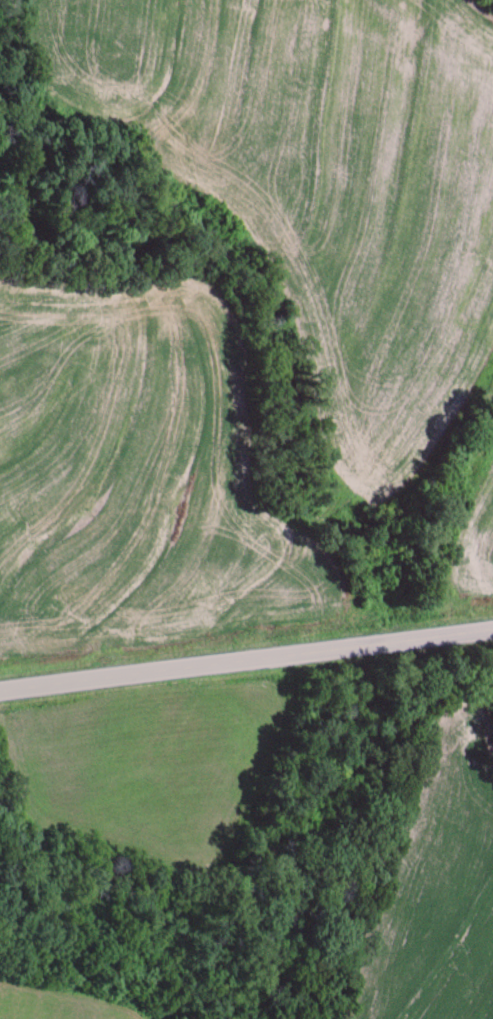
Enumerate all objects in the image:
road: (176, 326)
road: (245, 636)

